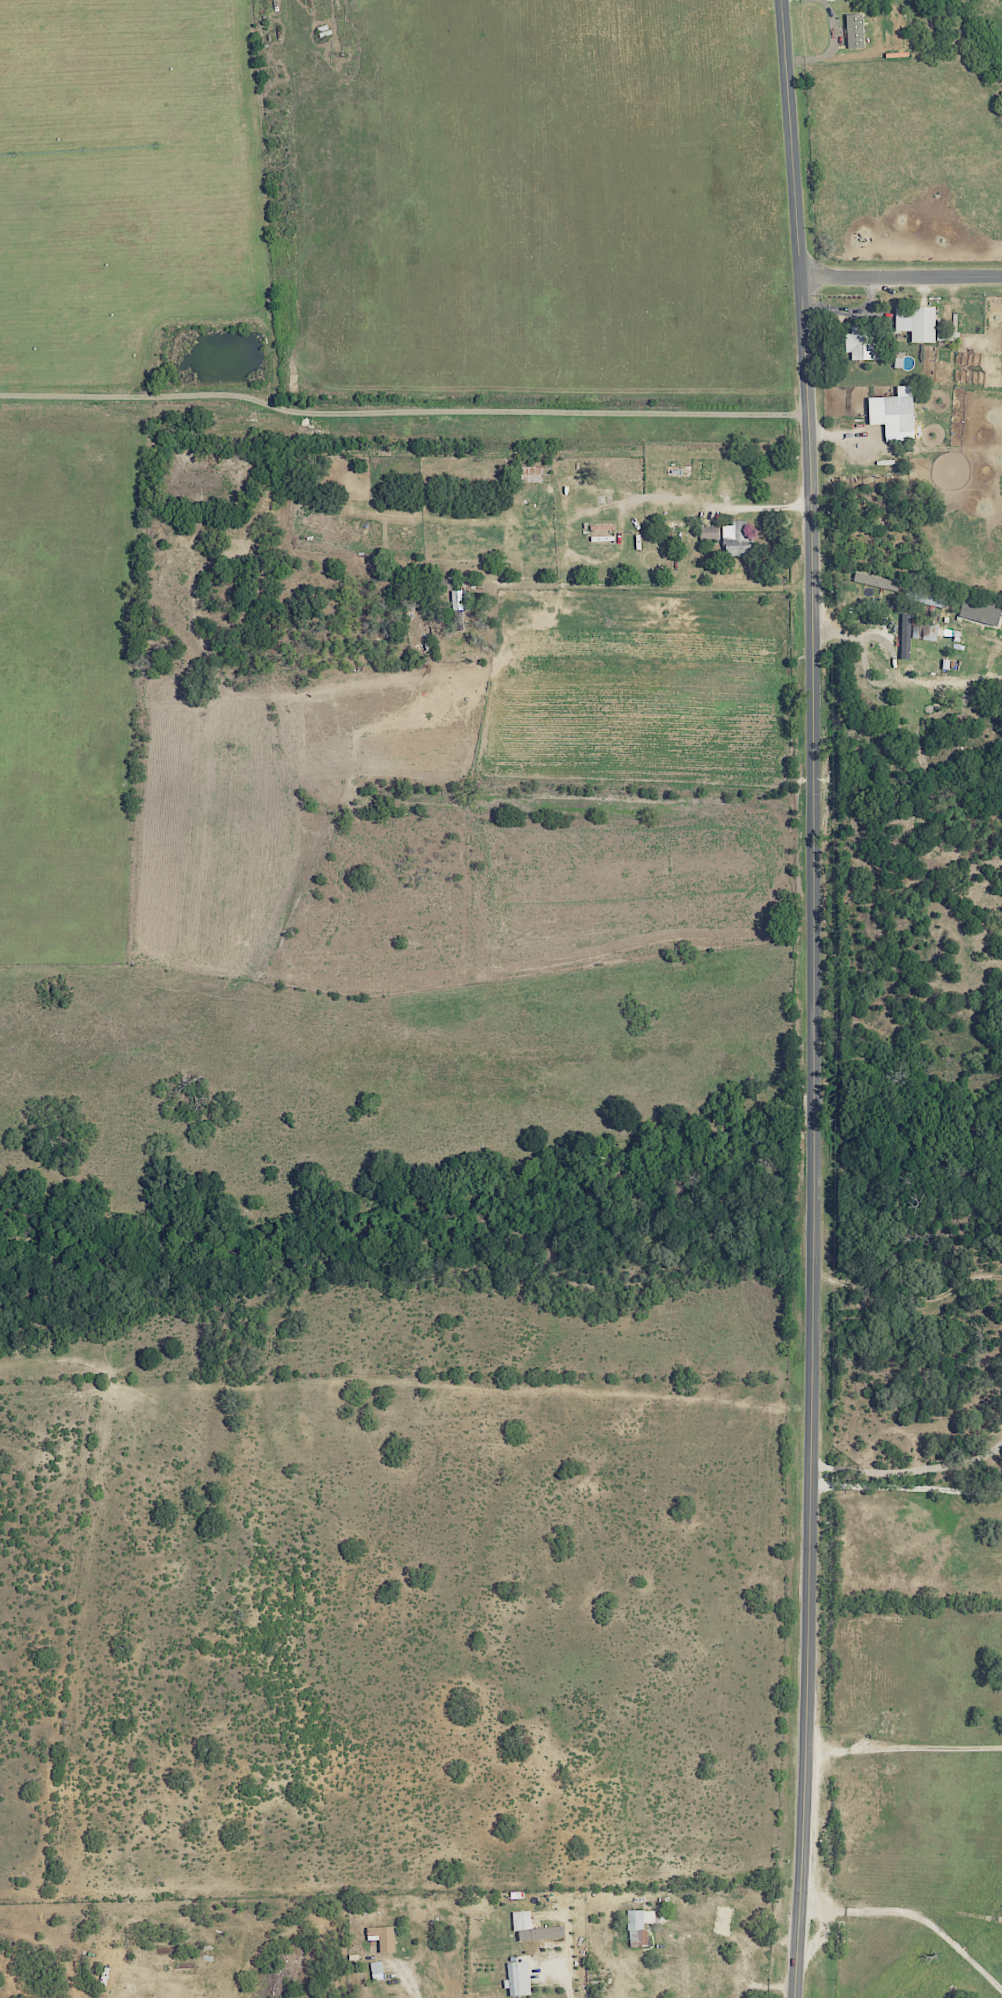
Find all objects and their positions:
road: (901, 276)
building: (916, 322)
building: (944, 336)
building: (863, 344)
road: (402, 410)
building: (893, 414)
road: (575, 507)
road: (729, 510)
building: (709, 532)
building: (736, 539)
road: (656, 585)
building: (458, 608)
building: (936, 631)
building: (905, 636)
road: (888, 655)
road: (815, 998)
road: (907, 1278)
road: (909, 1470)
road: (906, 1488)
road: (272, 1724)
road: (510, 1734)
road: (902, 1748)
road: (913, 1915)
building: (722, 1920)
building: (638, 1925)
building: (533, 1927)
building: (381, 1937)
building: (376, 1970)
building: (517, 1978)
road: (411, 1991)

